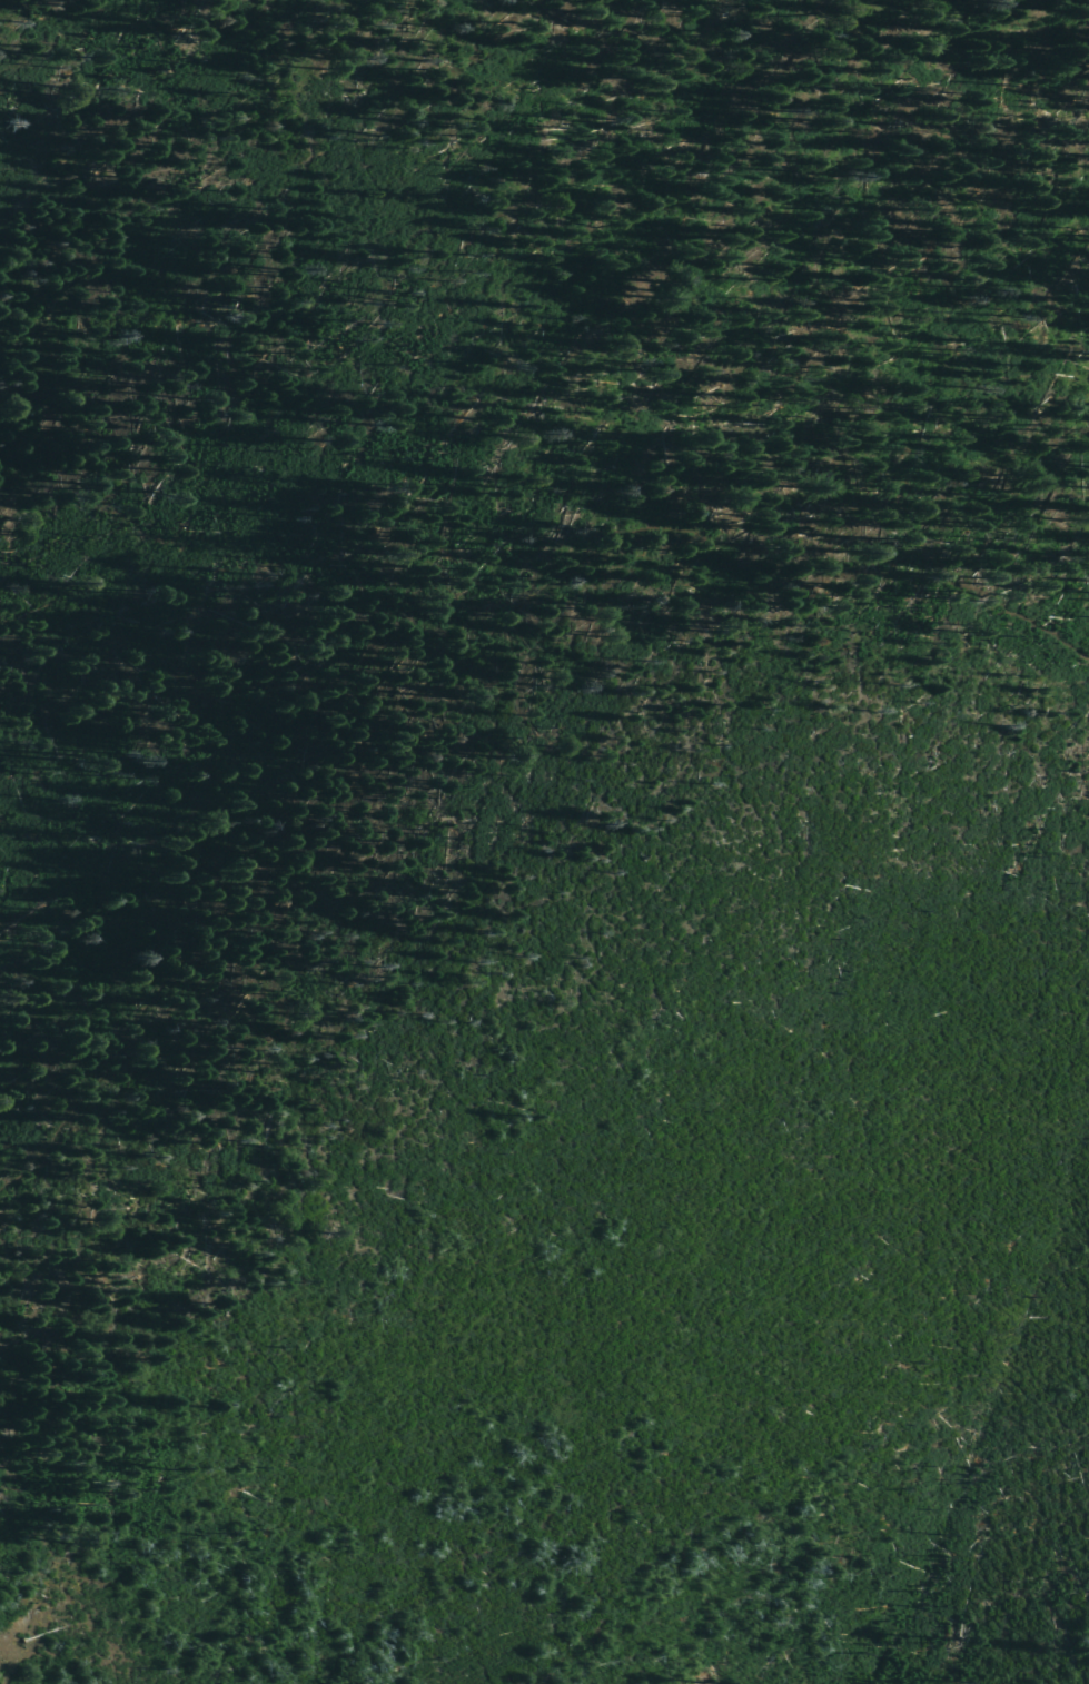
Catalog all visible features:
road: (457, 663)

